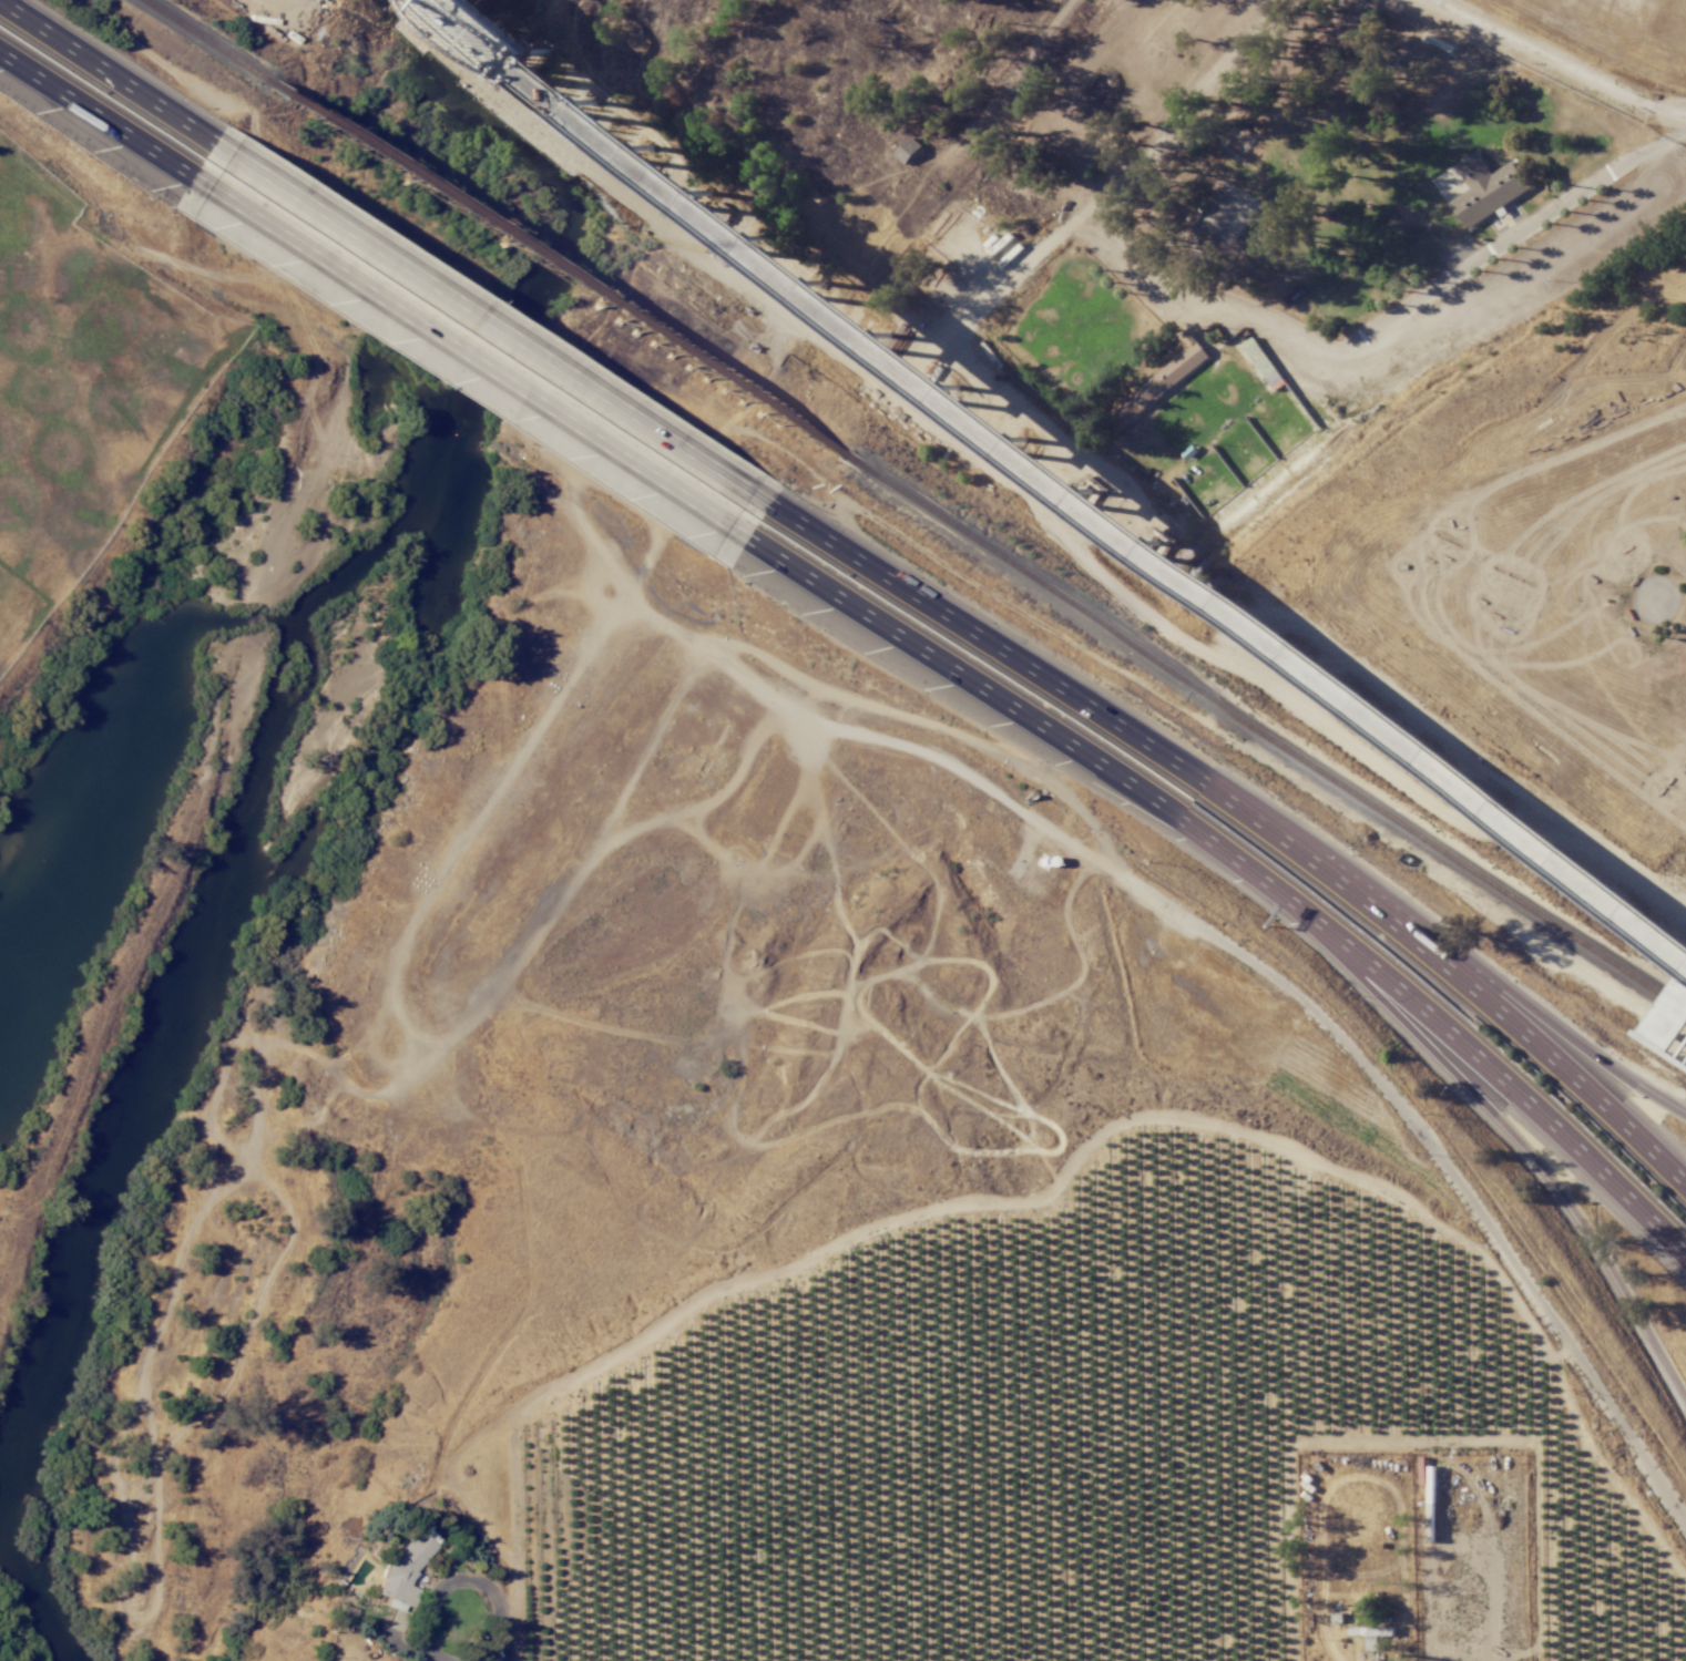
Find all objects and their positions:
railway: (208, 47)
road: (1563, 61)
road: (116, 75)
road: (104, 119)
road: (2, 141)
building: (910, 150)
building: (1488, 188)
railway: (559, 275)
road: (491, 320)
road: (1267, 326)
road: (468, 357)
building: (1164, 382)
crop: (69, 391)
railway: (1071, 481)
railway: (1064, 484)
road: (972, 684)
railway: (1260, 732)
road: (1240, 806)
river: (315, 822)
road: (1553, 1024)
road: (1459, 1038)
road: (1479, 1098)
road: (1412, 1119)
building: (403, 1569)
road: (457, 1579)
building: (1373, 1634)

